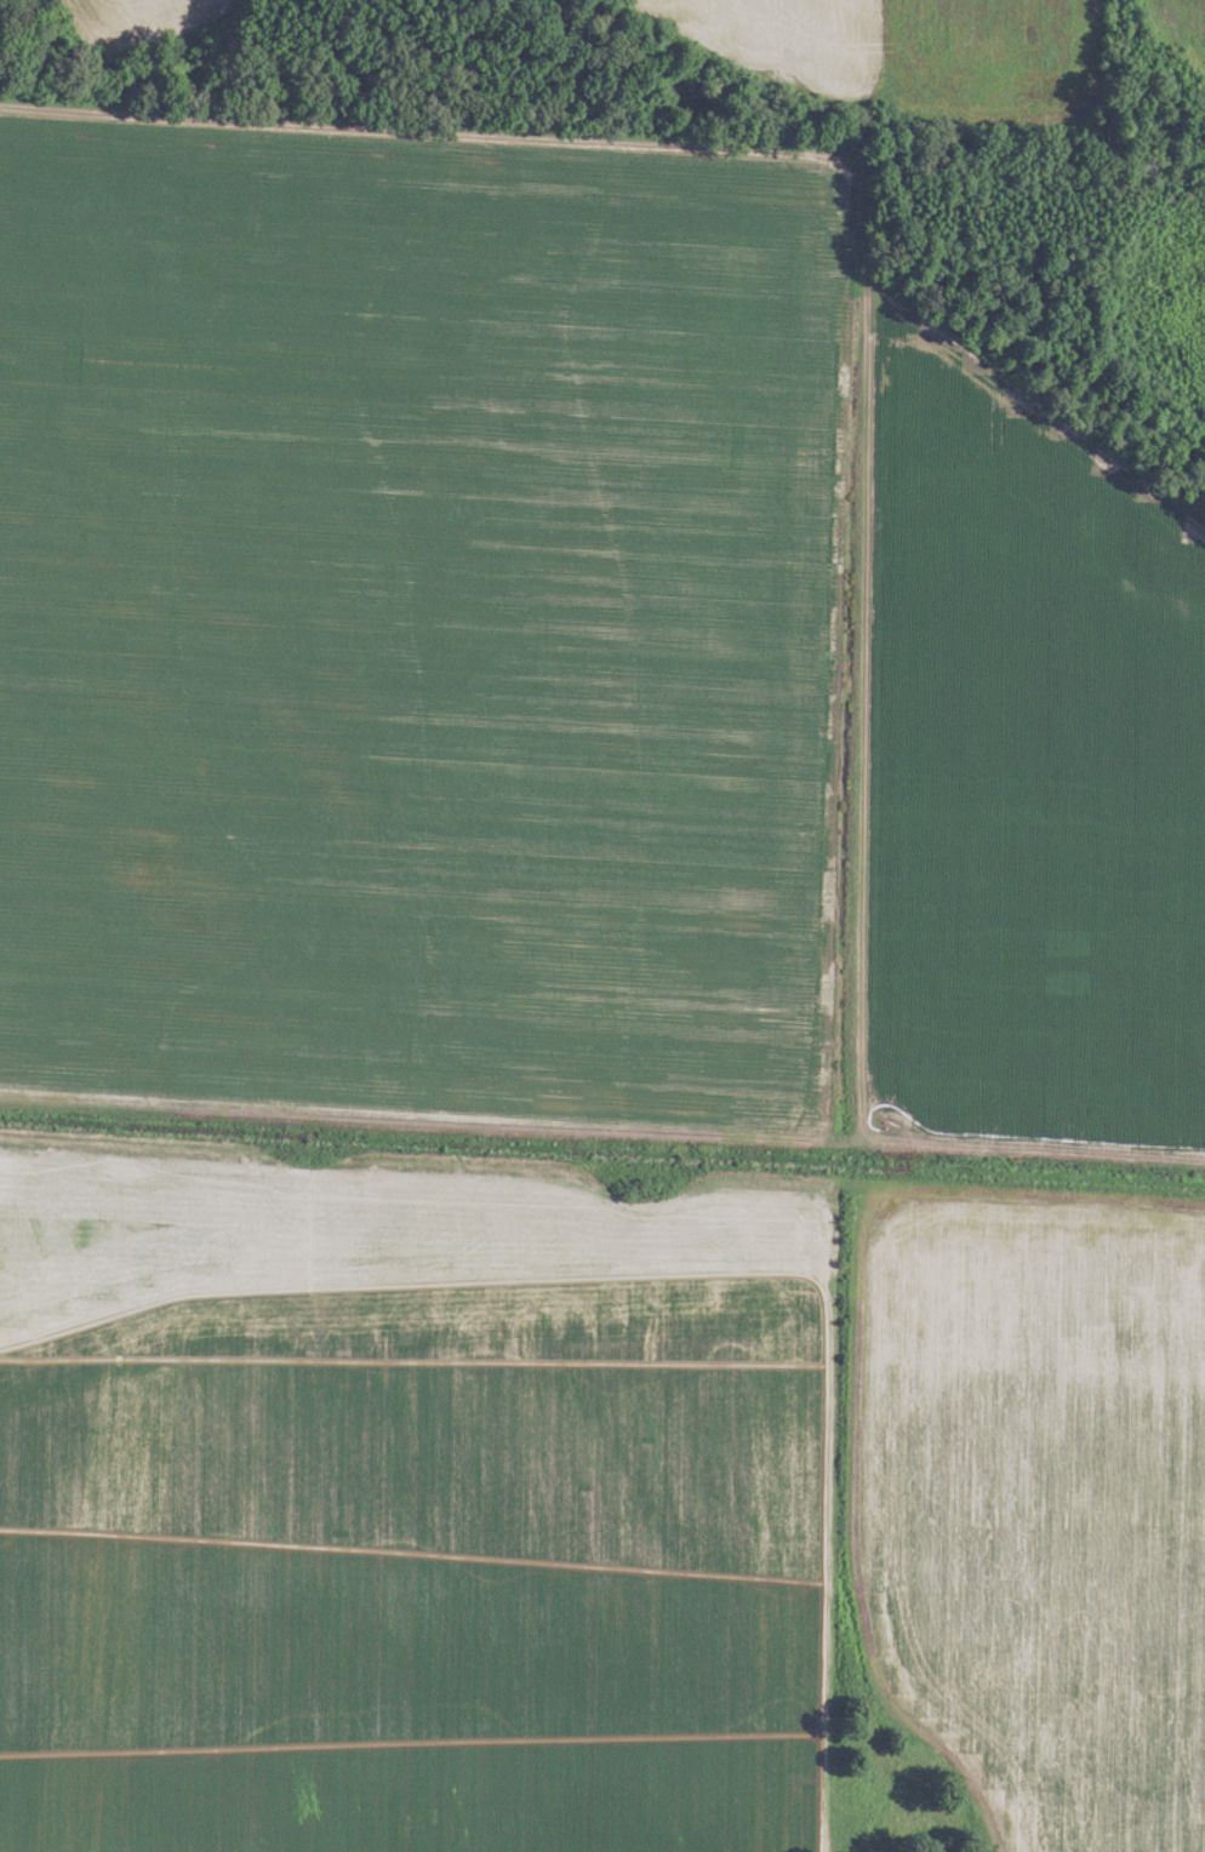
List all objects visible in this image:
road: (602, 1168)
road: (852, 1542)

